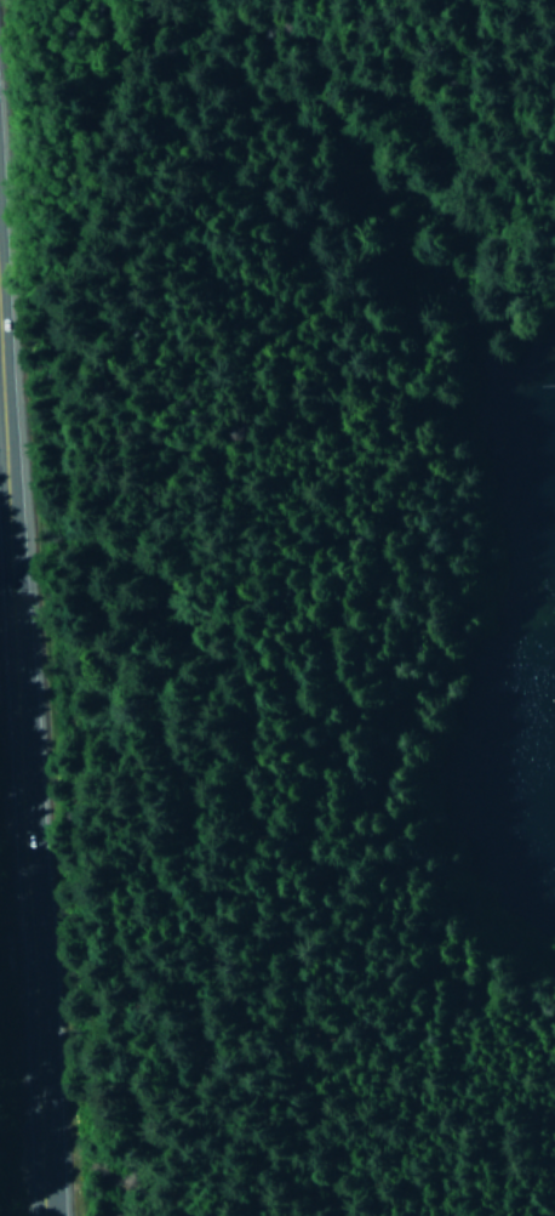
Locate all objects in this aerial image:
road: (13, 616)
road: (36, 1016)

